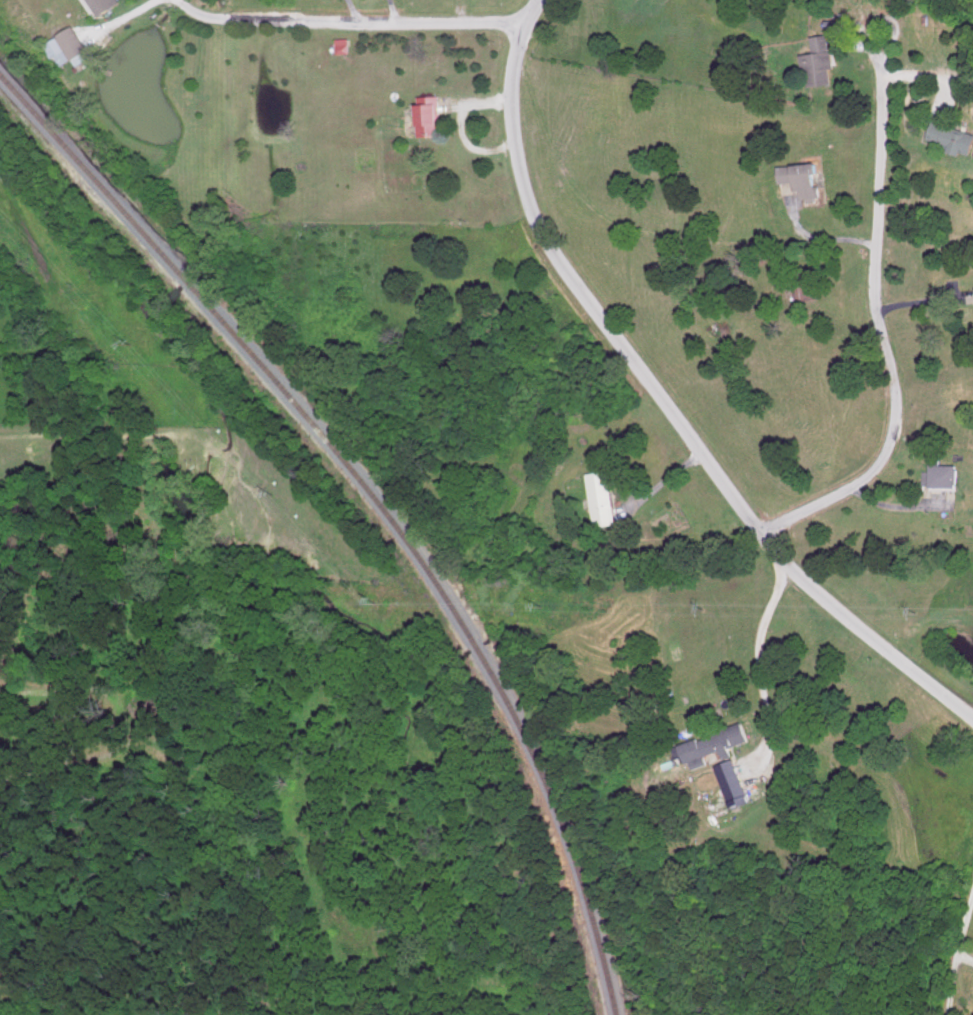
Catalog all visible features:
road: (461, 12)
road: (123, 19)
road: (347, 24)
building: (344, 45)
building: (70, 47)
building: (820, 60)
road: (882, 61)
road: (929, 79)
building: (431, 114)
building: (954, 137)
building: (803, 177)
road: (822, 237)
building: (806, 289)
road: (924, 309)
railway: (213, 311)
road: (881, 337)
road: (660, 399)
building: (945, 472)
building: (927, 478)
road: (660, 482)
building: (602, 497)
road: (895, 507)
road: (766, 687)
building: (716, 743)
railway: (540, 775)
building: (732, 782)
road: (955, 949)

